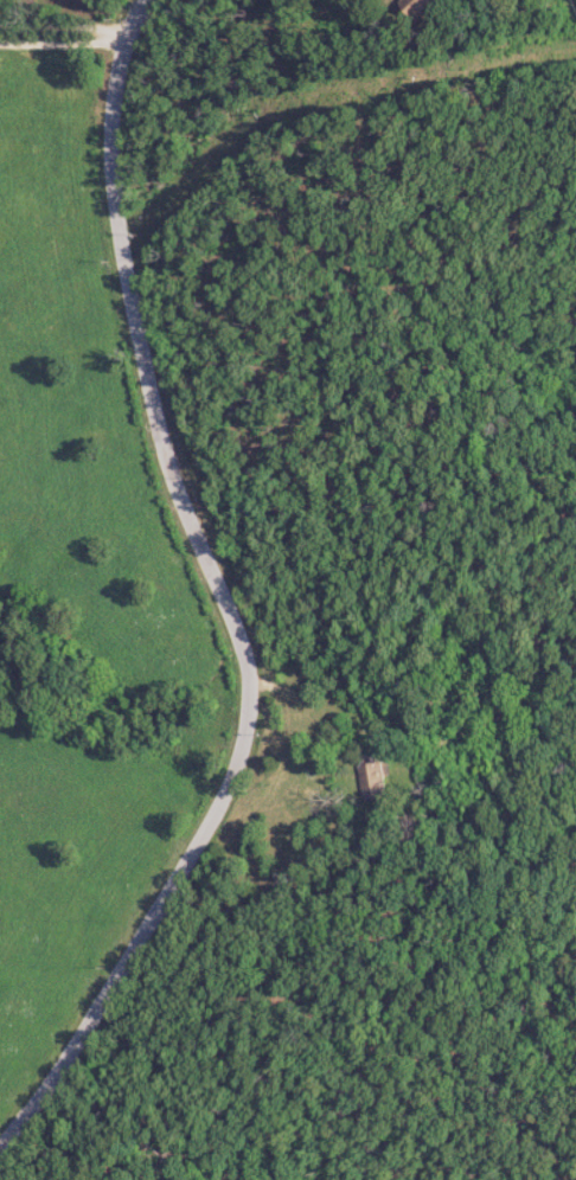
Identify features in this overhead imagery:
building: (436, 6)
road: (66, 23)
road: (62, 41)
road: (224, 598)
building: (377, 782)

